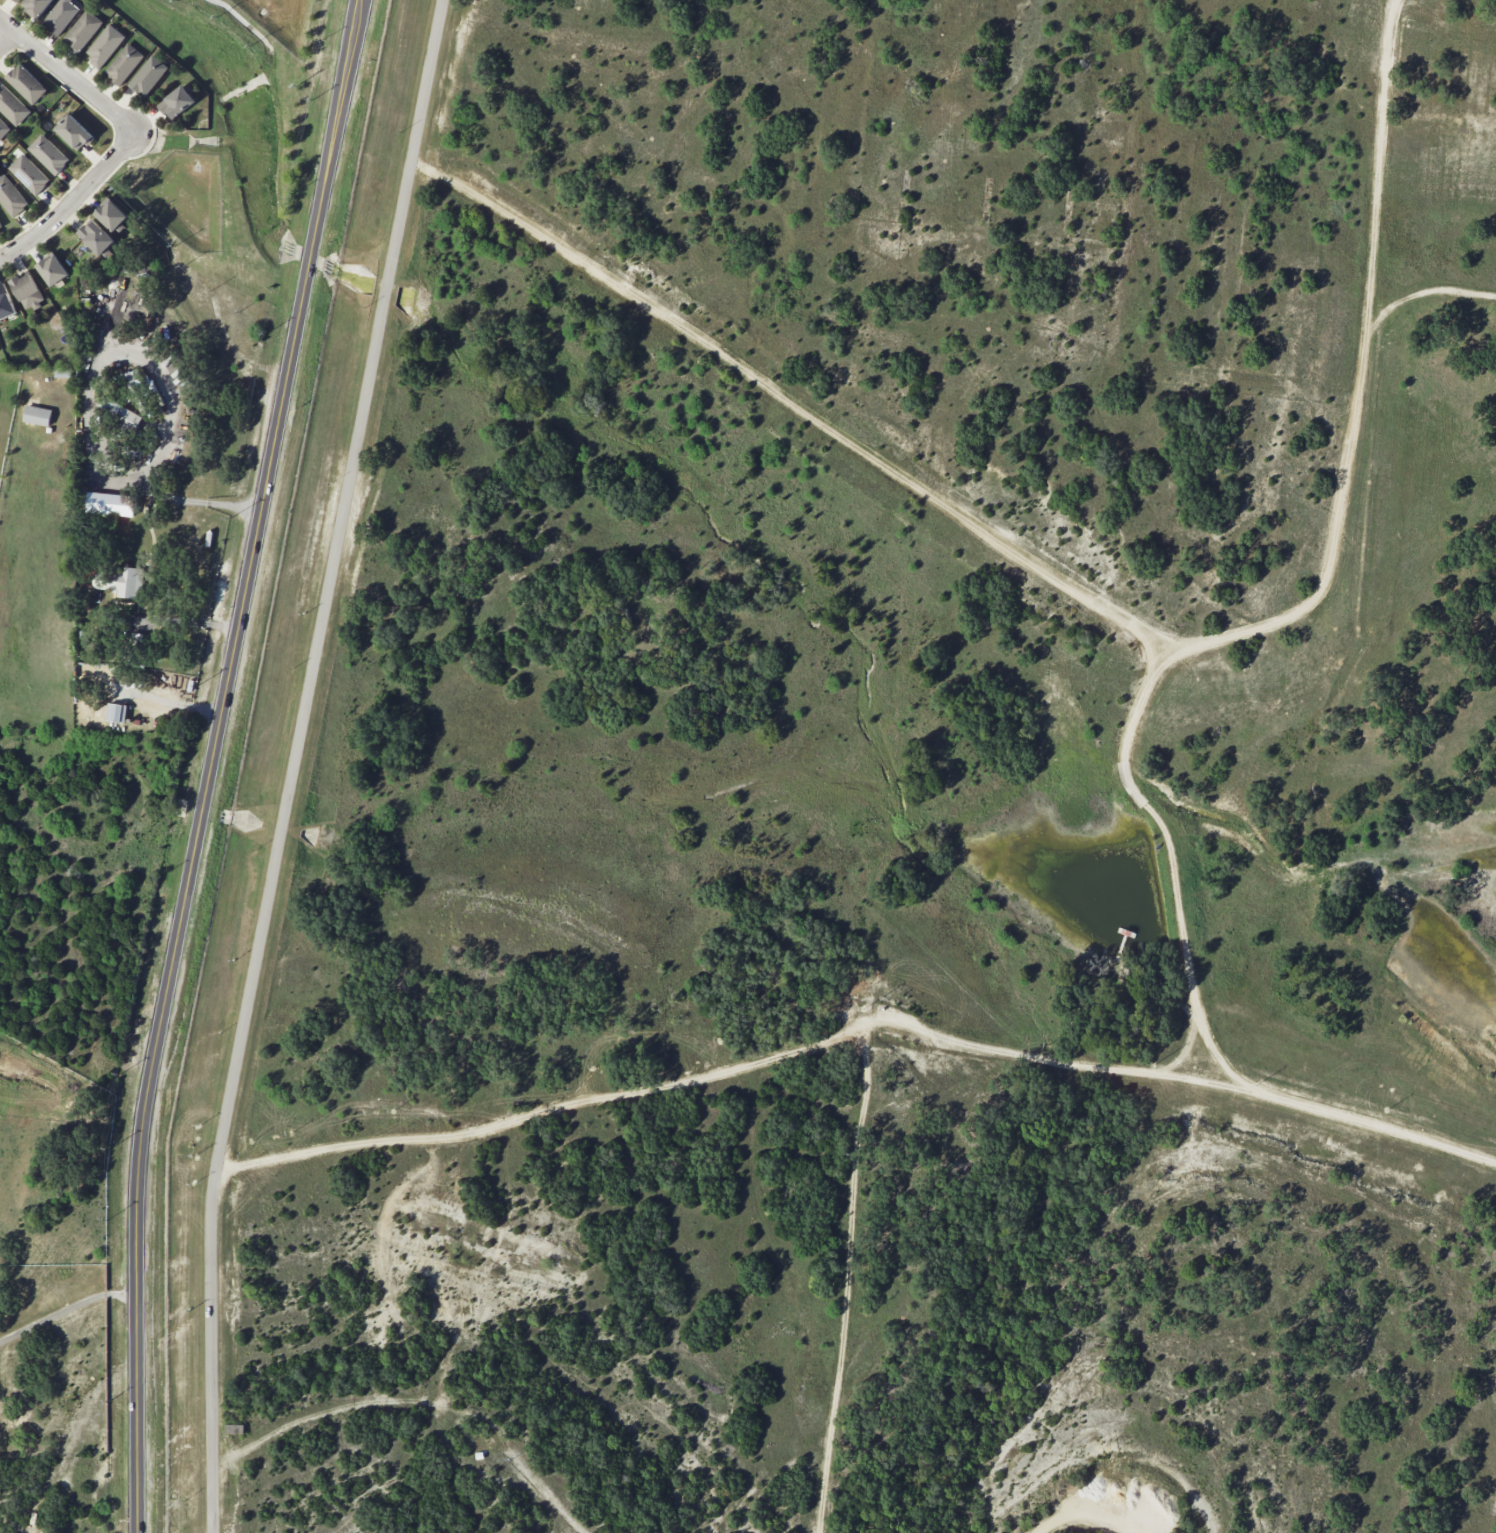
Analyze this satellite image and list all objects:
building: (16, 0)
building: (36, 6)
building: (61, 15)
building: (82, 30)
road: (6, 38)
building: (104, 45)
building: (123, 63)
building: (148, 75)
road: (68, 77)
building: (26, 83)
building: (176, 102)
building: (12, 106)
building: (3, 128)
building: (74, 132)
building: (48, 153)
building: (29, 173)
building: (11, 196)
road: (72, 200)
building: (111, 214)
building: (0, 227)
building: (95, 236)
building: (52, 269)
building: (27, 290)
road: (1426, 294)
building: (5, 302)
building: (128, 380)
road: (88, 399)
building: (37, 415)
building: (110, 503)
building: (120, 581)
road: (1109, 615)
road: (183, 621)
road: (161, 699)
building: (111, 712)
road: (211, 762)
road: (298, 762)
road: (1172, 871)
road: (860, 1028)
road: (66, 1307)
road: (423, 1403)
road: (1131, 1462)
road: (1094, 1516)

